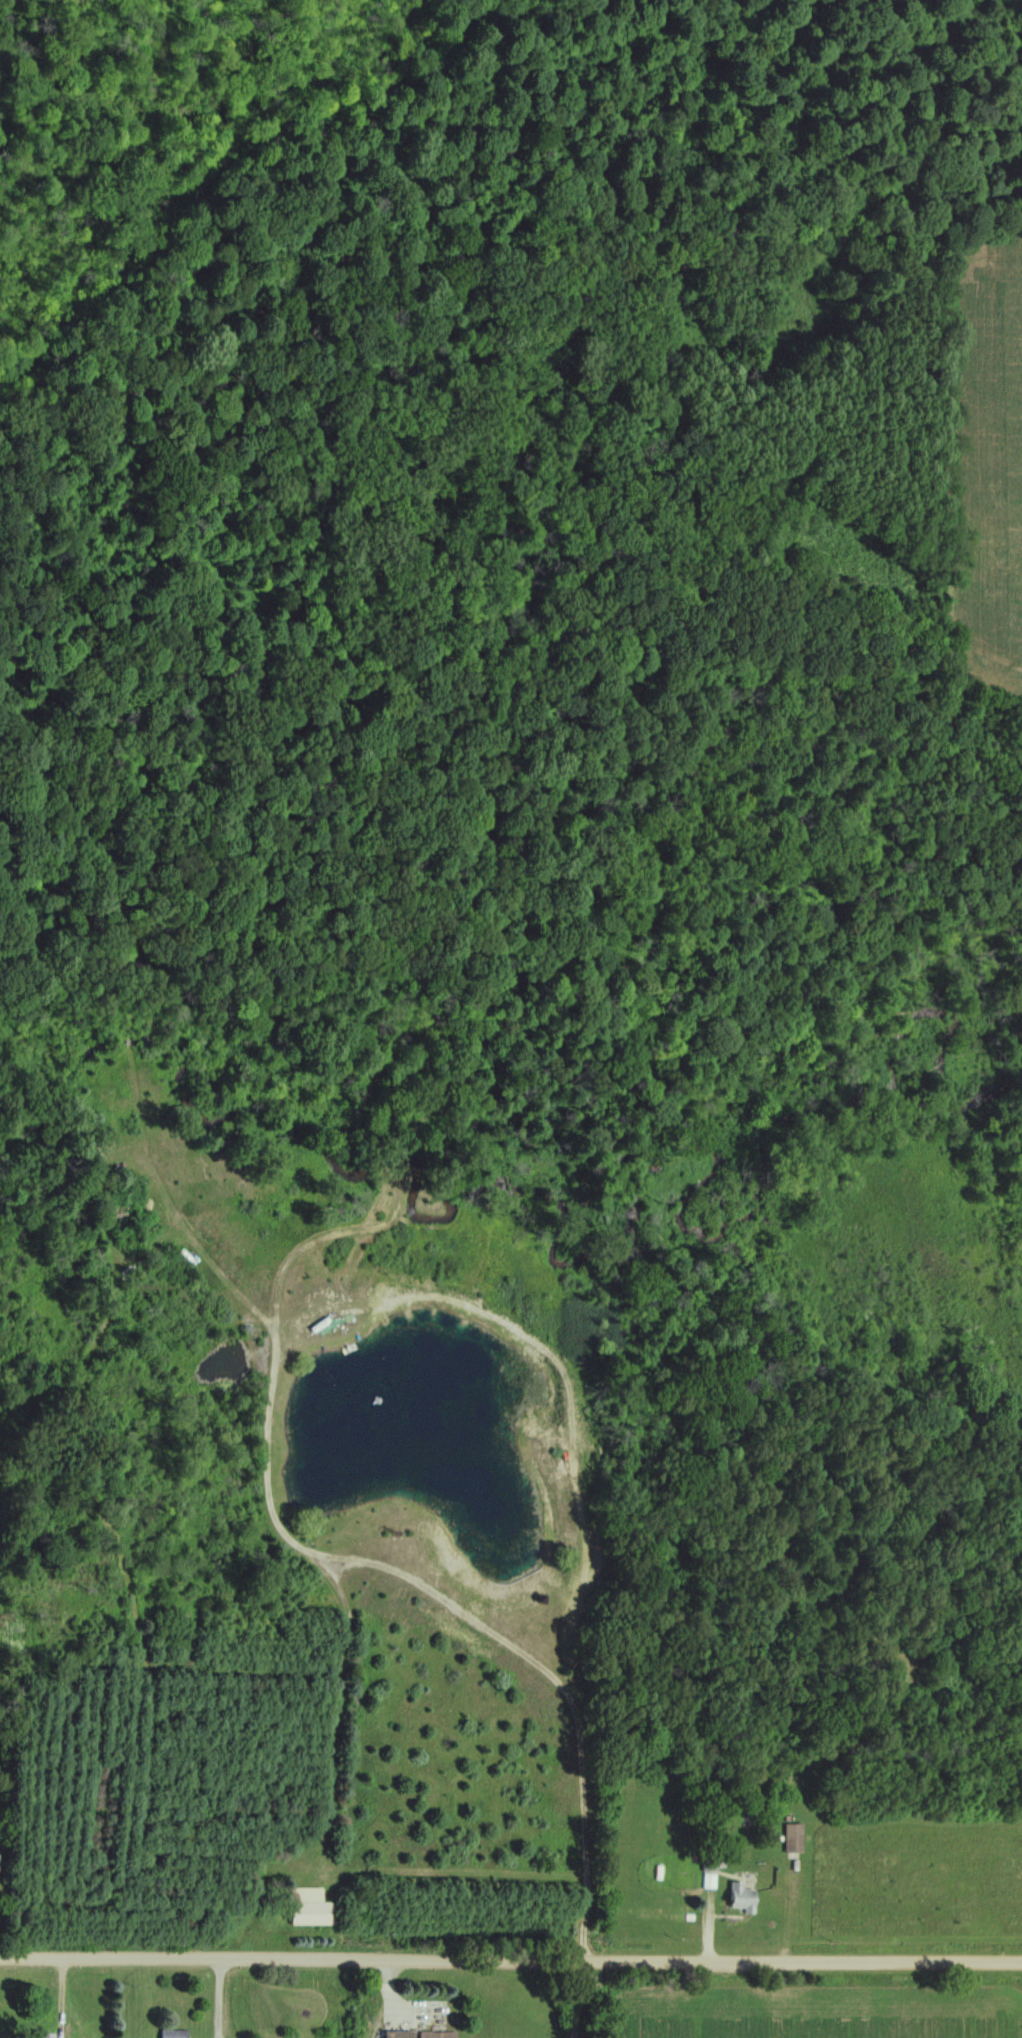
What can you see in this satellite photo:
building: (787, 1838)
building: (736, 1897)
building: (307, 1907)
road: (510, 1962)
road: (61, 1990)
road: (219, 1998)
road: (569, 2000)
building: (171, 2033)
building: (421, 2034)
building: (31, 2036)

